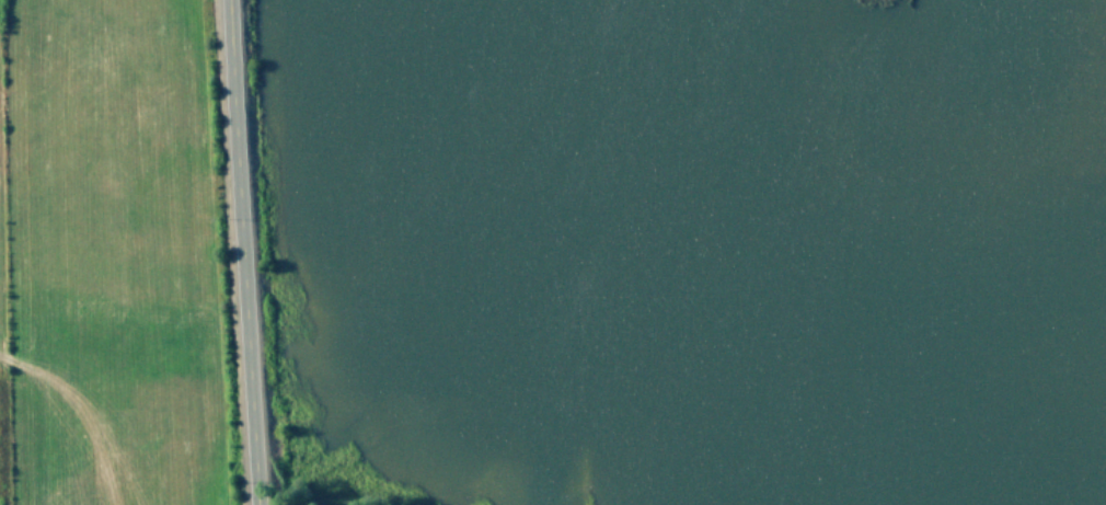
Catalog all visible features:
road: (240, 252)

